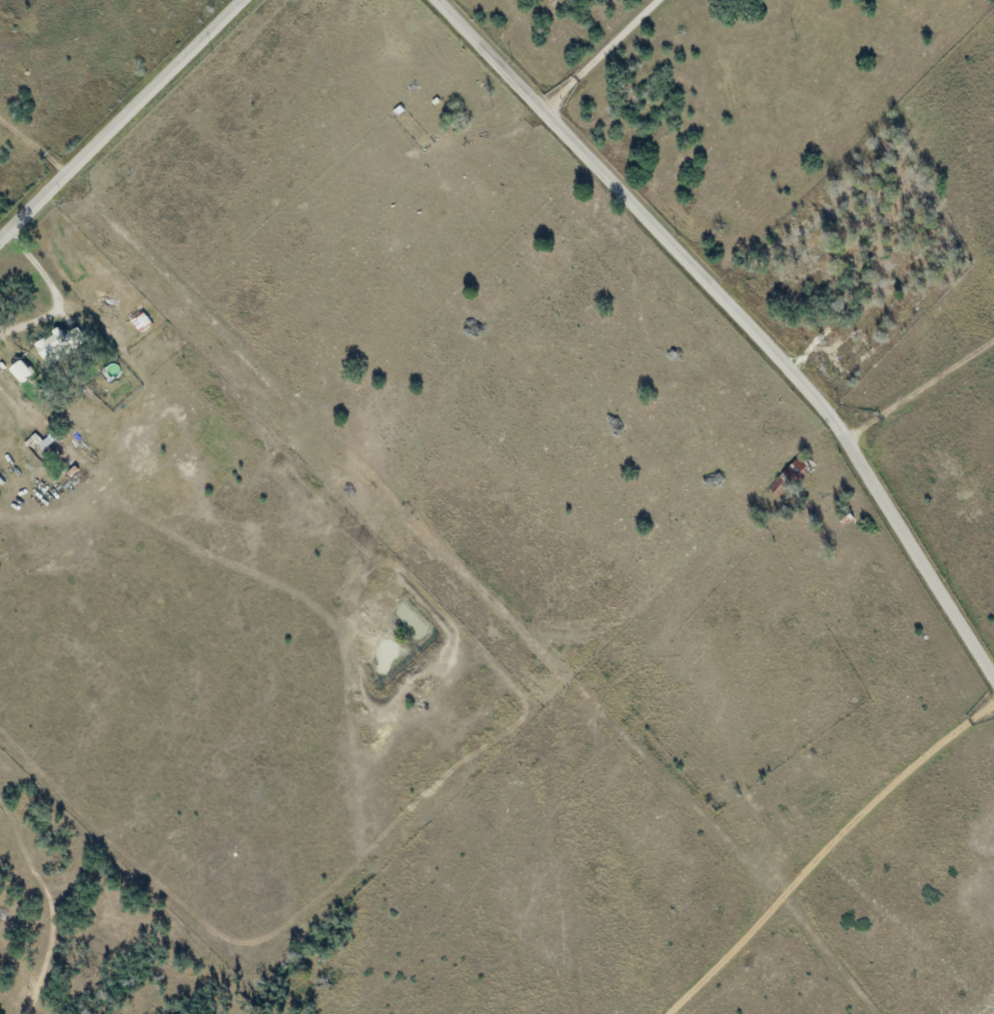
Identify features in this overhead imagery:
road: (557, 42)
road: (600, 51)
road: (121, 119)
road: (745, 314)
building: (59, 343)
building: (22, 370)
road: (940, 458)

